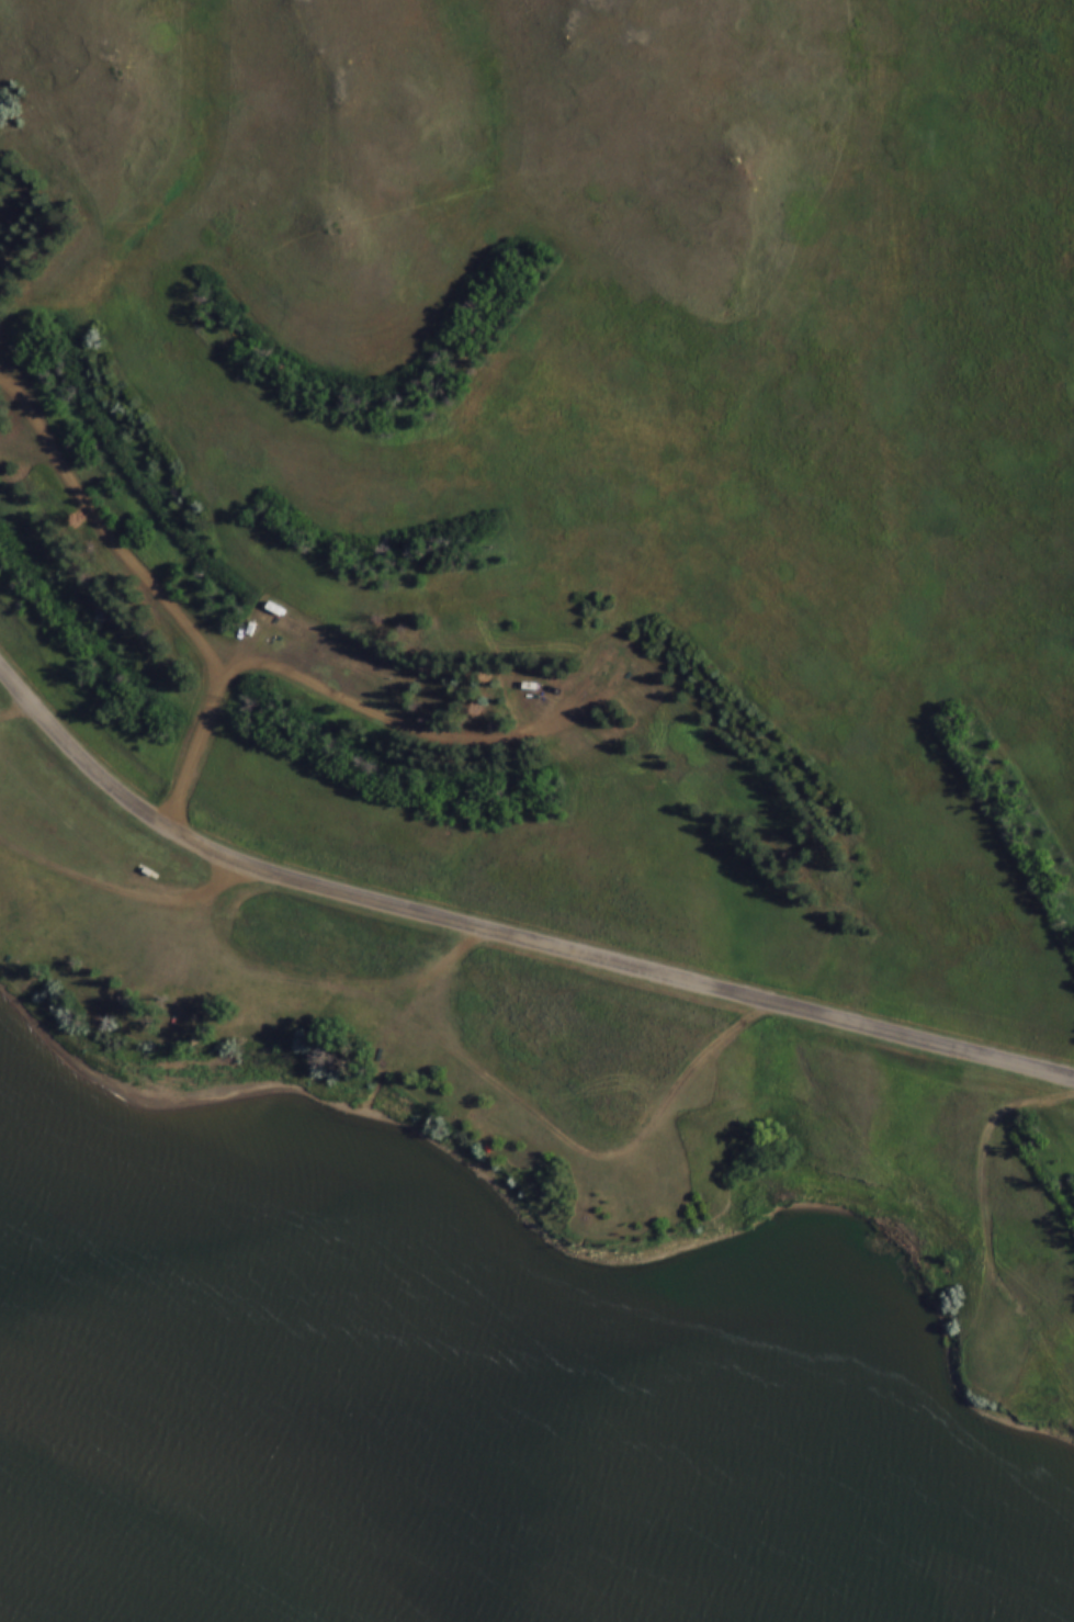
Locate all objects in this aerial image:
road: (840, 202)
road: (156, 589)
road: (377, 719)
road: (504, 932)
road: (665, 1133)
road: (870, 1142)
road: (984, 1221)

